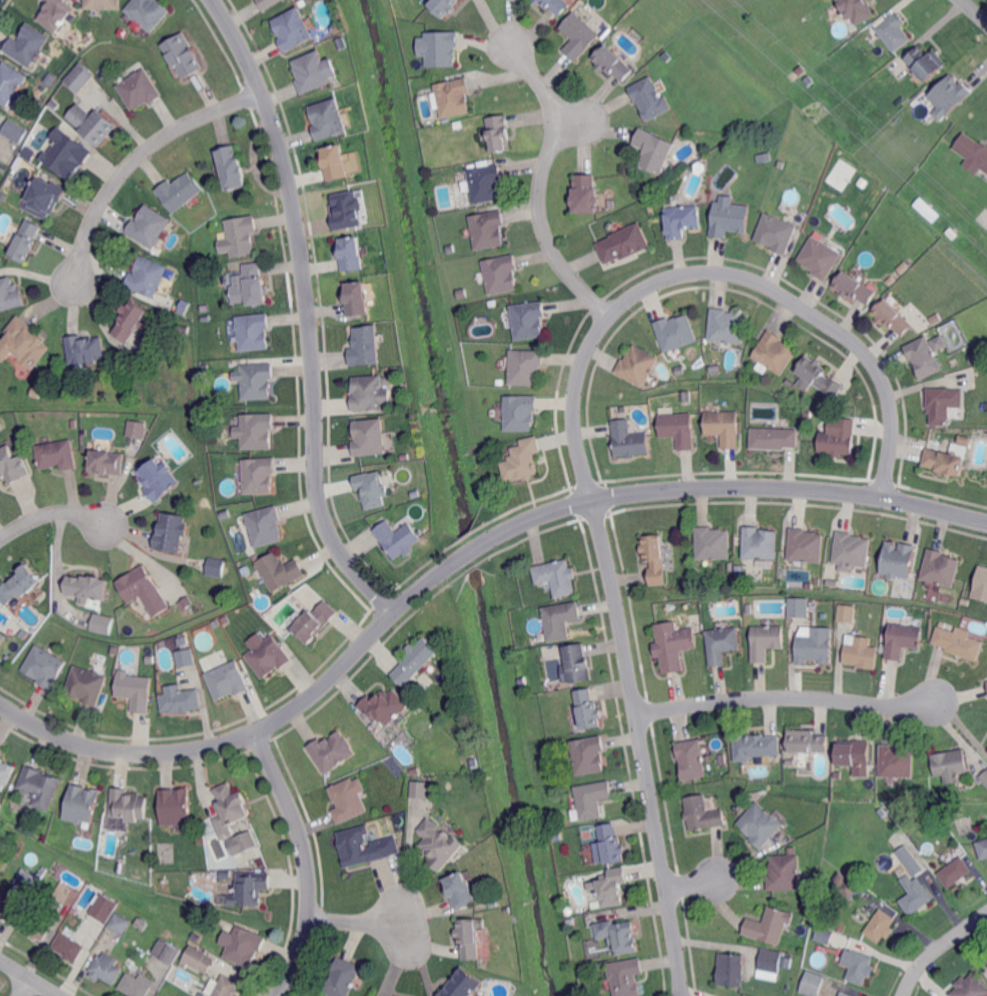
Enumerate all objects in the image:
building: (308, 0)
building: (267, 2)
building: (99, 4)
building: (443, 5)
building: (555, 5)
building: (857, 9)
road: (974, 10)
building: (146, 12)
building: (53, 13)
building: (336, 28)
building: (293, 29)
building: (896, 33)
building: (579, 34)
building: (672, 35)
building: (343, 43)
building: (27, 45)
building: (678, 46)
building: (440, 47)
building: (181, 54)
building: (612, 62)
building: (929, 64)
building: (312, 71)
building: (79, 78)
building: (881, 78)
building: (10, 82)
building: (810, 82)
building: (140, 88)
building: (454, 96)
building: (650, 97)
building: (951, 97)
building: (55, 105)
building: (328, 118)
building: (92, 123)
building: (13, 130)
building: (499, 131)
building: (788, 139)
building: (66, 150)
building: (653, 151)
building: (973, 151)
building: (29, 153)
building: (765, 157)
road: (132, 161)
building: (336, 161)
building: (232, 167)
building: (3, 169)
building: (699, 169)
building: (486, 183)
road: (539, 183)
building: (178, 192)
building: (585, 194)
building: (3, 196)
building: (43, 197)
building: (926, 208)
building: (349, 210)
building: (882, 210)
building: (729, 216)
building: (681, 219)
building: (148, 226)
building: (610, 226)
building: (488, 228)
building: (809, 229)
building: (776, 232)
building: (239, 235)
building: (24, 240)
building: (622, 243)
building: (351, 252)
building: (820, 257)
building: (501, 273)
building: (146, 278)
building: (248, 286)
building: (854, 286)
building: (463, 293)
building: (9, 294)
building: (358, 297)
building: (205, 308)
road: (307, 314)
building: (892, 316)
building: (528, 318)
building: (205, 319)
building: (130, 320)
building: (725, 325)
building: (184, 329)
building: (253, 330)
building: (674, 331)
building: (937, 342)
building: (22, 345)
building: (365, 346)
building: (83, 350)
building: (774, 352)
building: (923, 356)
building: (974, 357)
building: (636, 364)
building: (525, 366)
building: (715, 367)
building: (680, 370)
building: (819, 375)
building: (254, 380)
building: (501, 382)
building: (128, 390)
building: (369, 392)
building: (685, 395)
building: (943, 403)
building: (520, 411)
building: (806, 413)
building: (210, 421)
building: (74, 424)
building: (723, 425)
building: (676, 427)
building: (135, 429)
building: (255, 431)
road: (575, 435)
building: (369, 436)
building: (836, 436)
building: (772, 437)
building: (627, 438)
building: (964, 440)
building: (55, 455)
building: (523, 460)
building: (945, 460)
building: (104, 462)
building: (12, 465)
building: (257, 474)
building: (158, 478)
building: (371, 489)
road: (676, 489)
building: (226, 514)
road: (53, 518)
building: (263, 526)
building: (172, 531)
building: (399, 537)
building: (711, 543)
building: (758, 544)
building: (805, 546)
building: (850, 550)
building: (654, 558)
building: (898, 560)
building: (215, 567)
building: (941, 569)
building: (279, 571)
building: (693, 571)
building: (741, 575)
building: (557, 577)
building: (816, 581)
building: (829, 583)
building: (18, 584)
building: (981, 584)
building: (88, 586)
building: (809, 586)
building: (143, 591)
building: (965, 602)
building: (186, 605)
building: (798, 608)
building: (749, 609)
building: (846, 613)
building: (226, 620)
building: (560, 620)
building: (314, 623)
building: (216, 624)
building: (100, 625)
building: (19, 629)
building: (1, 637)
building: (902, 640)
building: (183, 641)
building: (765, 642)
building: (958, 643)
building: (672, 645)
building: (721, 645)
building: (814, 646)
building: (115, 650)
building: (861, 653)
building: (270, 656)
building: (186, 658)
building: (415, 659)
building: (150, 660)
building: (578, 663)
building: (44, 668)
building: (986, 681)
building: (227, 682)
building: (86, 685)
building: (136, 690)
road: (786, 697)
building: (182, 701)
building: (383, 705)
building: (587, 709)
building: (806, 741)
road: (215, 743)
building: (755, 746)
building: (0, 750)
building: (334, 752)
building: (854, 753)
building: (588, 755)
building: (692, 759)
building: (723, 759)
building: (791, 762)
building: (896, 762)
building: (473, 763)
building: (953, 766)
building: (415, 771)
building: (4, 774)
building: (838, 775)
building: (984, 778)
building: (40, 786)
building: (420, 790)
building: (348, 800)
building: (591, 800)
building: (232, 804)
building: (81, 805)
building: (129, 805)
building: (177, 807)
building: (703, 814)
building: (400, 818)
building: (952, 819)
building: (760, 825)
building: (243, 841)
building: (439, 843)
building: (608, 845)
building: (362, 847)
building: (982, 850)
building: (210, 852)
building: (242, 860)
road: (307, 860)
building: (910, 861)
building: (122, 866)
building: (785, 872)
building: (42, 874)
building: (955, 874)
building: (226, 875)
building: (29, 881)
road: (692, 884)
building: (845, 886)
building: (609, 887)
building: (251, 889)
building: (459, 891)
building: (66, 894)
building: (915, 895)
building: (492, 903)
building: (104, 908)
building: (7, 909)
road: (358, 919)
building: (142, 923)
building: (120, 924)
building: (37, 926)
building: (769, 927)
building: (880, 927)
building: (842, 928)
building: (618, 936)
building: (824, 936)
building: (468, 939)
building: (245, 947)
road: (937, 947)
building: (69, 949)
building: (593, 949)
building: (167, 952)
building: (986, 956)
building: (198, 959)
building: (771, 961)
building: (604, 964)
building: (858, 966)
building: (106, 969)
building: (730, 971)
road: (30, 977)
building: (624, 978)
building: (343, 979)
building: (812, 983)
building: (136, 985)
building: (461, 985)
road: (27, 987)
building: (226, 987)
building: (971, 987)
building: (846, 994)

